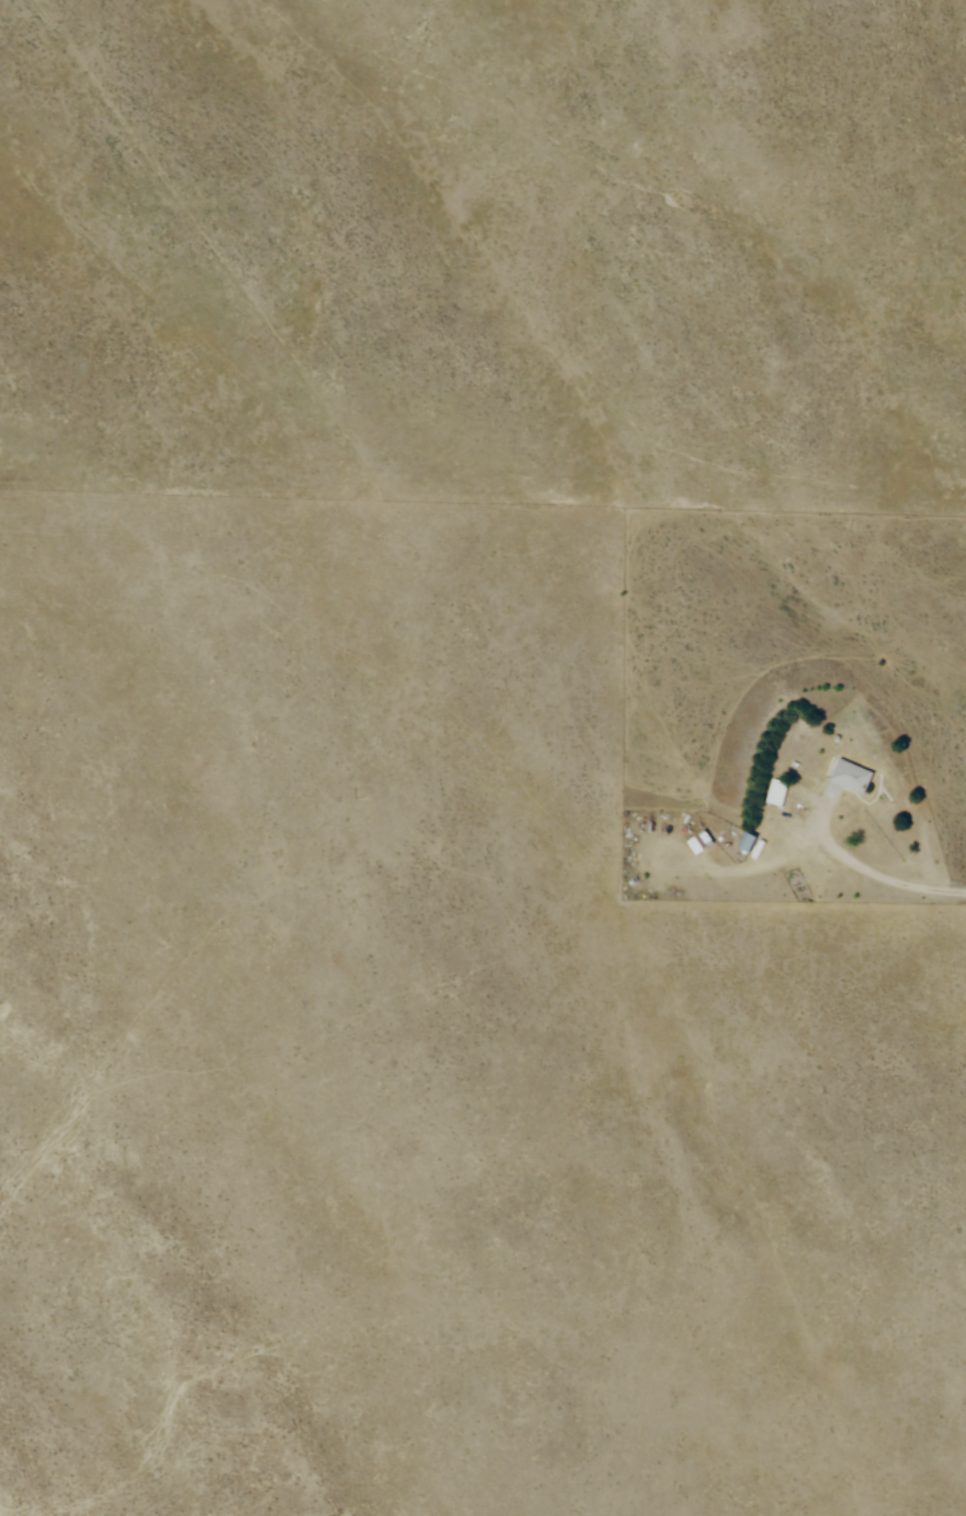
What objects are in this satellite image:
building: (853, 776)
building: (777, 795)
building: (745, 837)
road: (859, 868)

